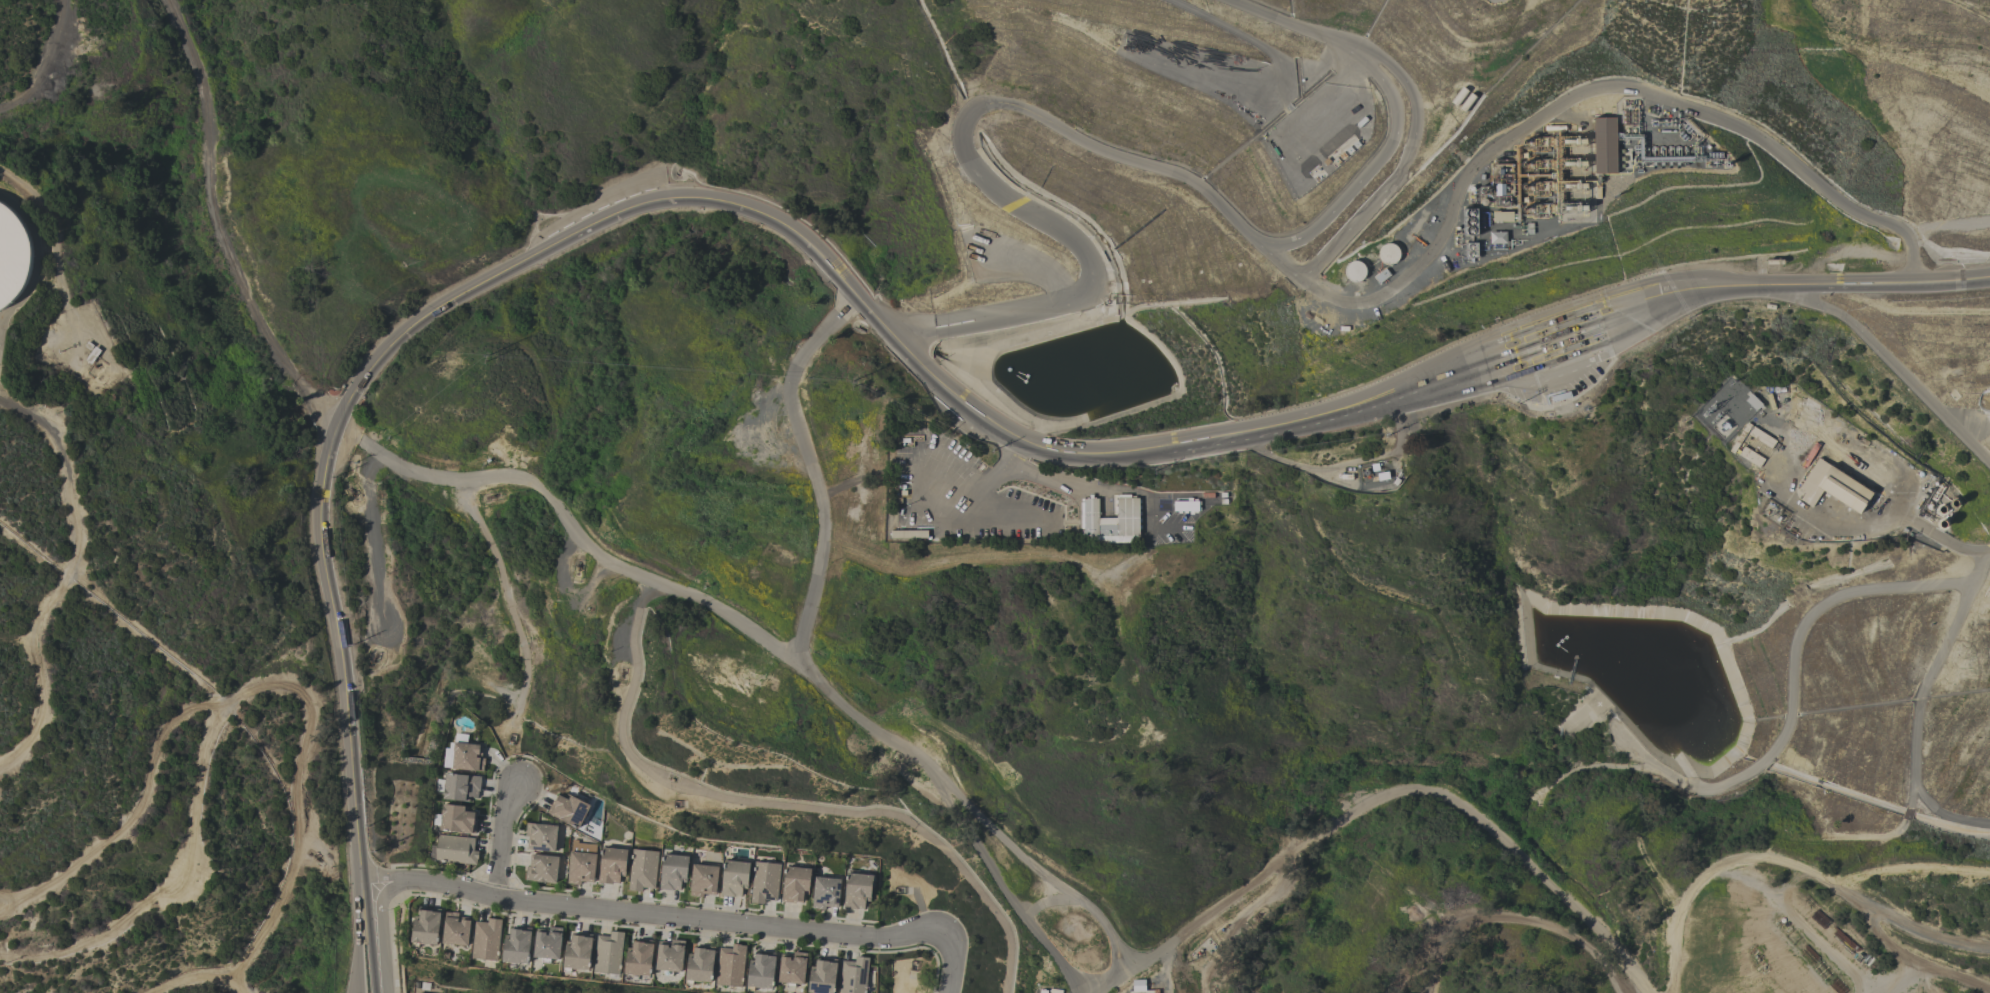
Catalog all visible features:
road: (44, 64)
road: (1576, 96)
building: (1604, 145)
road: (1108, 151)
road: (1402, 166)
building: (1502, 182)
road: (702, 200)
road: (218, 224)
building: (1497, 237)
building: (1388, 254)
storage tank: (1388, 254)
building: (22, 258)
storage tank: (22, 258)
building: (1355, 271)
storage tank: (1355, 271)
road: (1821, 284)
road: (1550, 312)
road: (1554, 321)
building: (1568, 324)
road: (1642, 329)
road: (1560, 333)
road: (1564, 342)
building: (1571, 347)
road: (1569, 355)
road: (1892, 364)
road: (1542, 376)
building: (1560, 397)
landfill: (1542, 419)
landfill: (1687, 419)
road: (1247, 433)
road: (933, 449)
road: (1011, 450)
building: (1751, 457)
road: (995, 474)
building: (1832, 487)
road: (1111, 489)
petroleum well: (352, 493)
road: (980, 495)
petroleum well: (490, 496)
road: (939, 505)
building: (1187, 507)
road: (967, 513)
road: (1012, 513)
building: (1128, 517)
road: (573, 528)
road: (376, 538)
petroleum well: (578, 570)
road: (508, 597)
road: (336, 633)
petroleum well: (375, 659)
petroleum well: (620, 671)
road: (814, 678)
road: (1918, 716)
road: (528, 756)
building: (468, 757)
building: (461, 787)
road: (1385, 794)
road: (779, 804)
building: (568, 810)
building: (457, 820)
road: (502, 833)
building: (542, 837)
building: (581, 847)
building: (456, 850)
petroleum well: (315, 857)
building: (612, 866)
road: (1792, 867)
building: (581, 868)
road: (1906, 868)
building: (542, 869)
road: (1038, 869)
building: (642, 870)
building: (673, 872)
building: (734, 878)
road: (494, 881)
building: (703, 881)
building: (765, 883)
building: (795, 884)
building: (857, 891)
building: (825, 894)
road: (695, 903)
road: (652, 915)
road: (1517, 918)
building: (426, 929)
building: (455, 929)
road: (686, 932)
road: (379, 936)
road: (359, 937)
building: (487, 940)
building: (547, 945)
building: (516, 947)
building: (578, 953)
building: (609, 953)
building: (669, 957)
building: (639, 959)
road: (953, 960)
road: (1417, 965)
road: (1925, 965)
building: (700, 967)
building: (731, 967)
building: (793, 970)
building: (761, 972)
building: (854, 976)
building: (823, 977)
building: (1139, 987)
petroleum well: (1214, 988)
building: (1043, 991)
building: (1055, 991)

